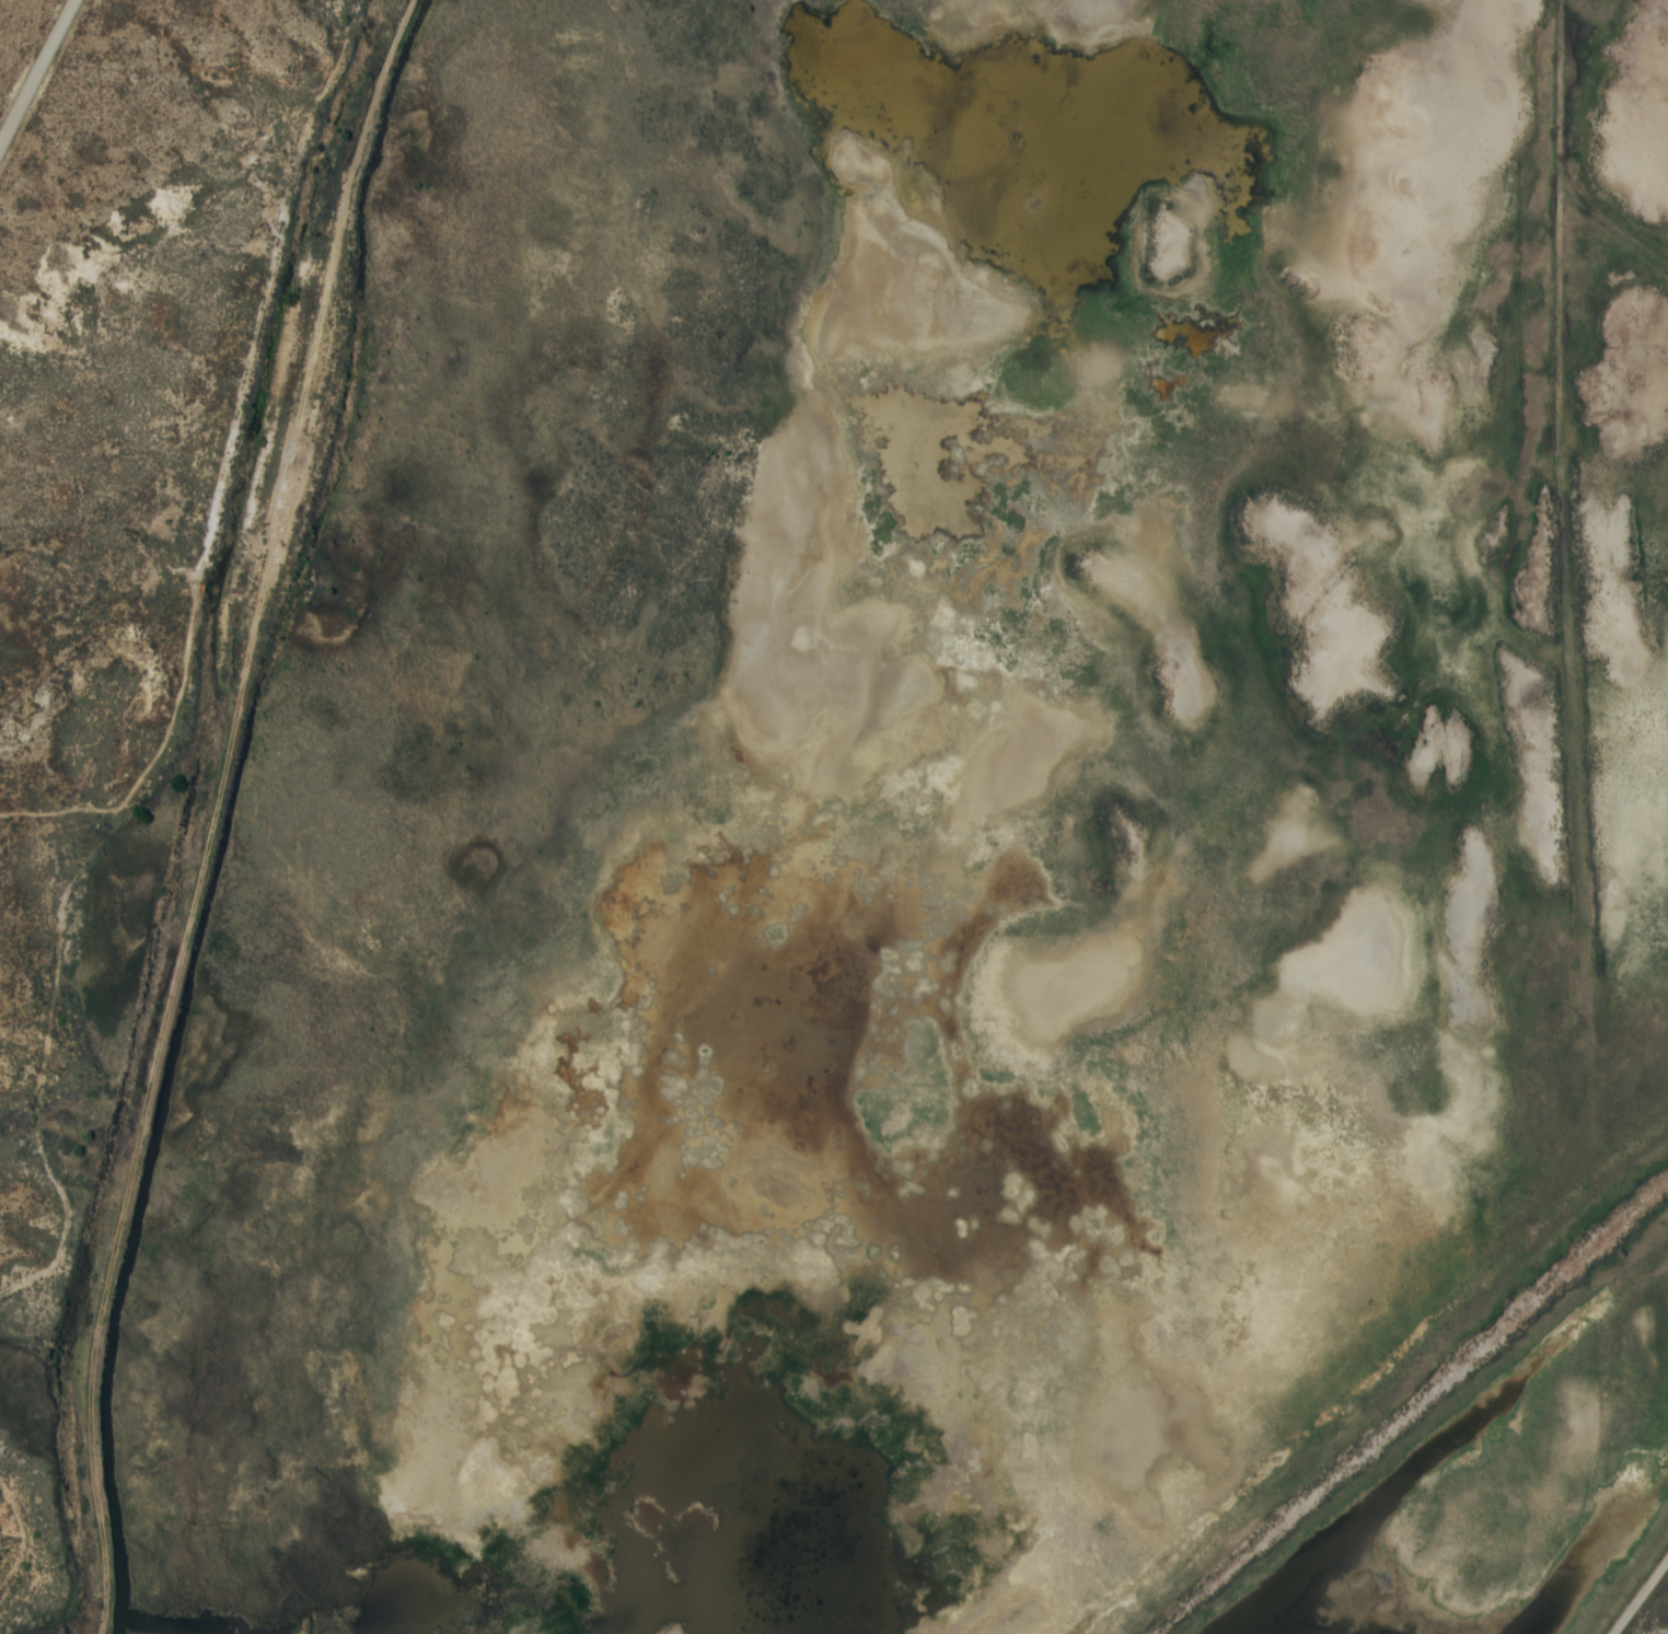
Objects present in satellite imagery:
road: (37, 76)
road: (1641, 1597)

